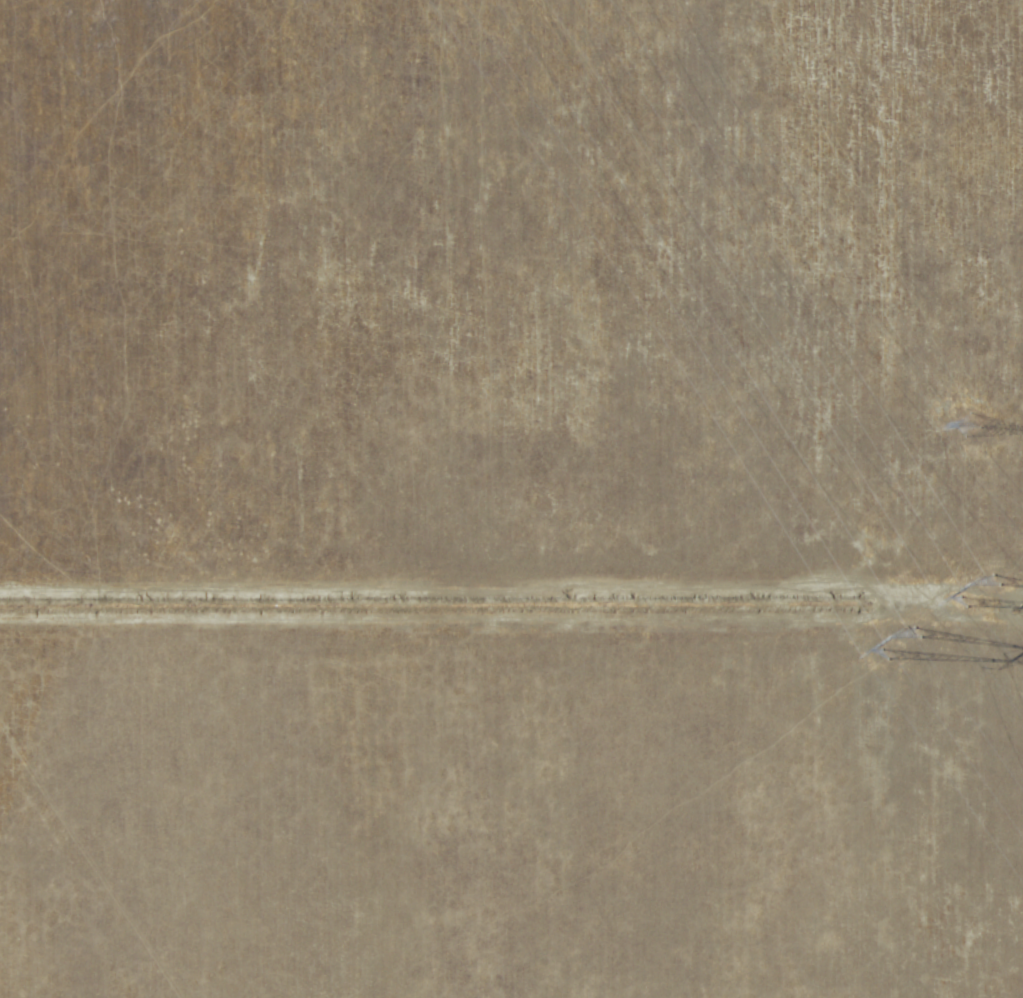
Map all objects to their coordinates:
power tower: (978, 432)
power tower: (977, 586)
power tower: (910, 651)
road: (96, 853)

